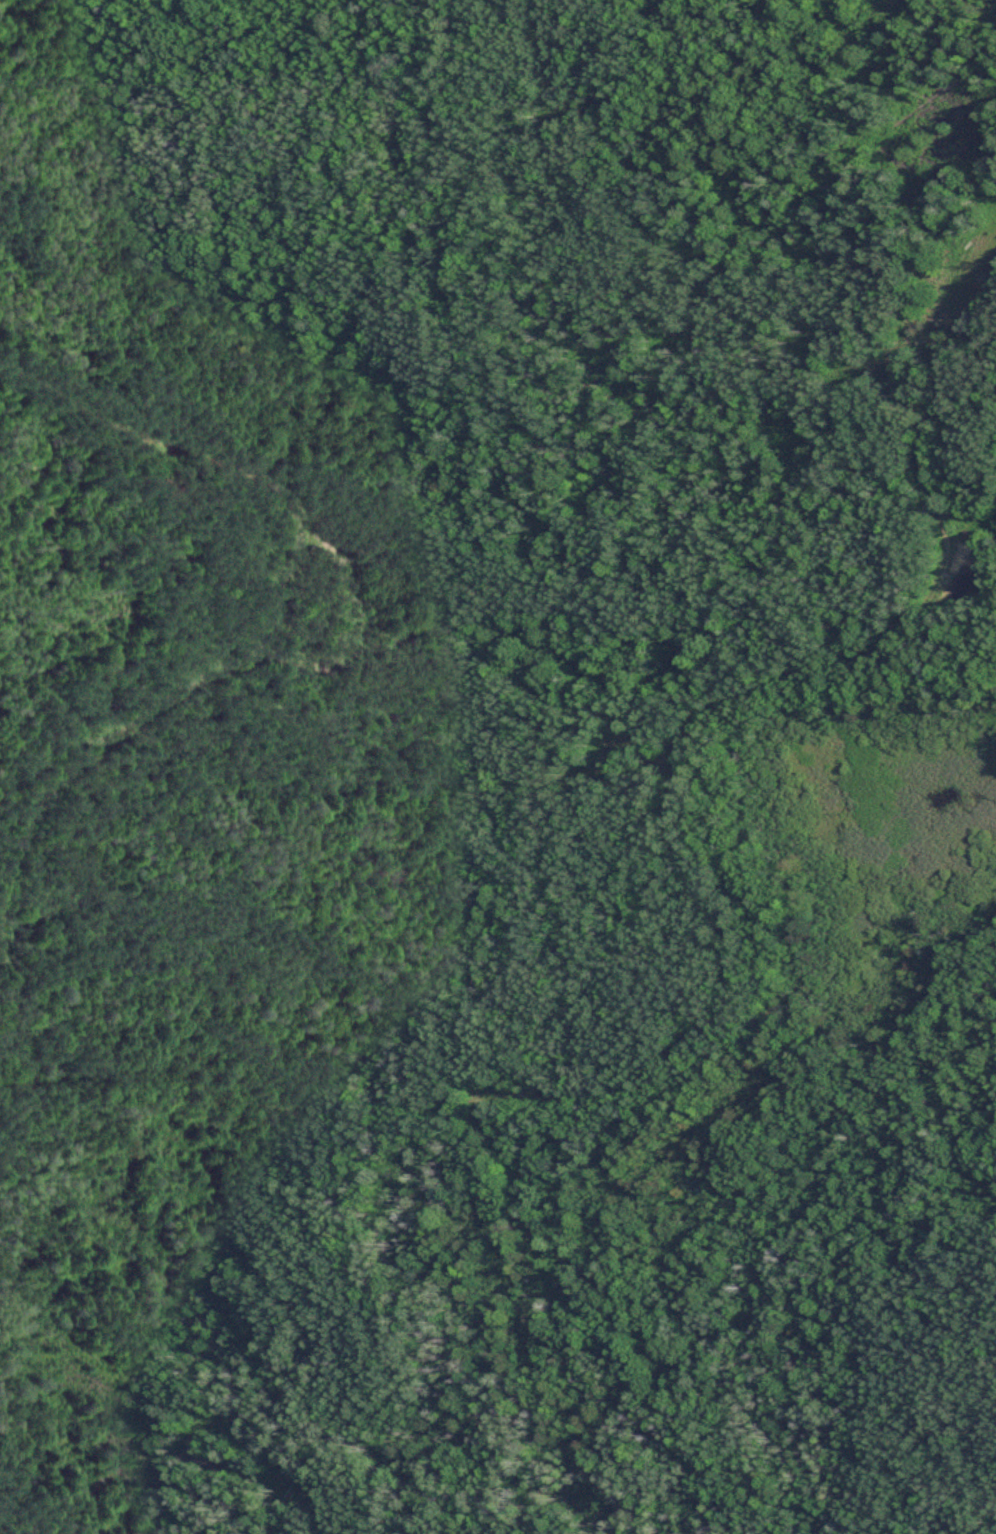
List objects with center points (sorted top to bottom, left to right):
road: (702, 934)

